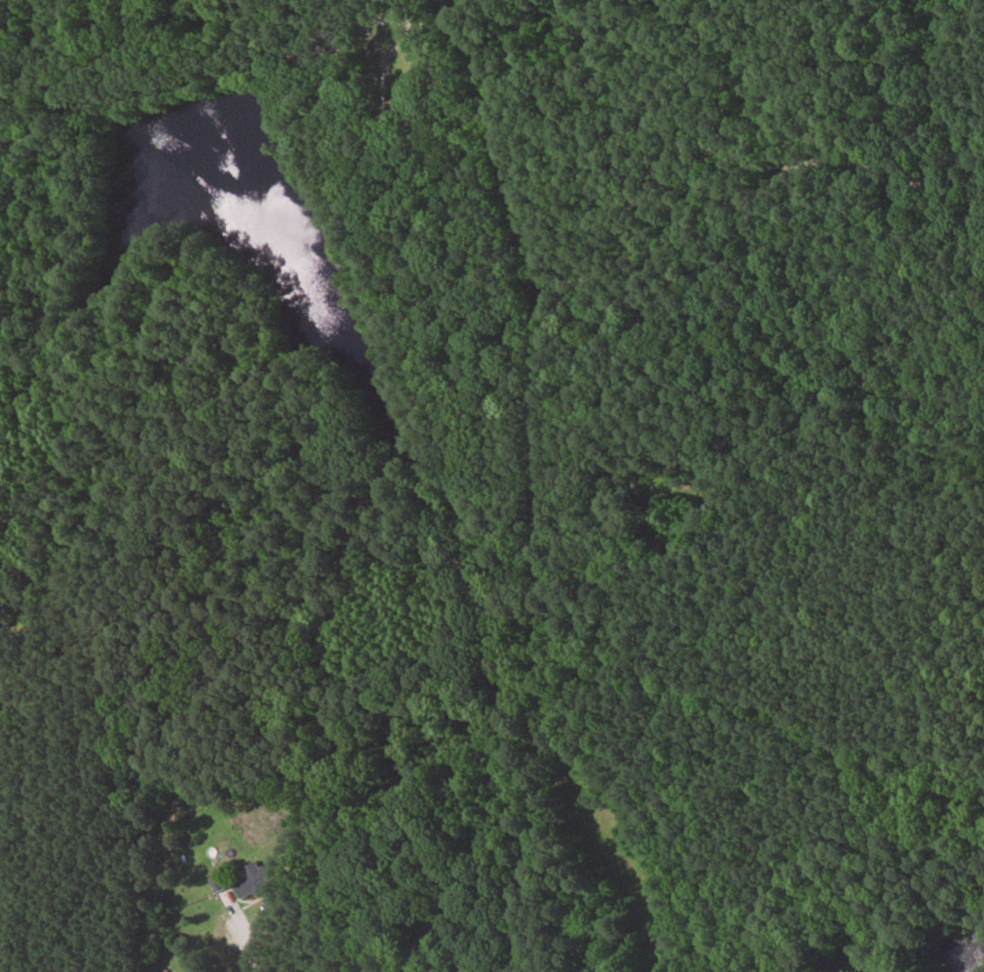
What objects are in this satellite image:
road: (450, 20)
road: (386, 21)
road: (176, 81)
road: (23, 137)
road: (396, 141)
road: (901, 179)
road: (605, 270)
road: (547, 641)
road: (245, 935)

